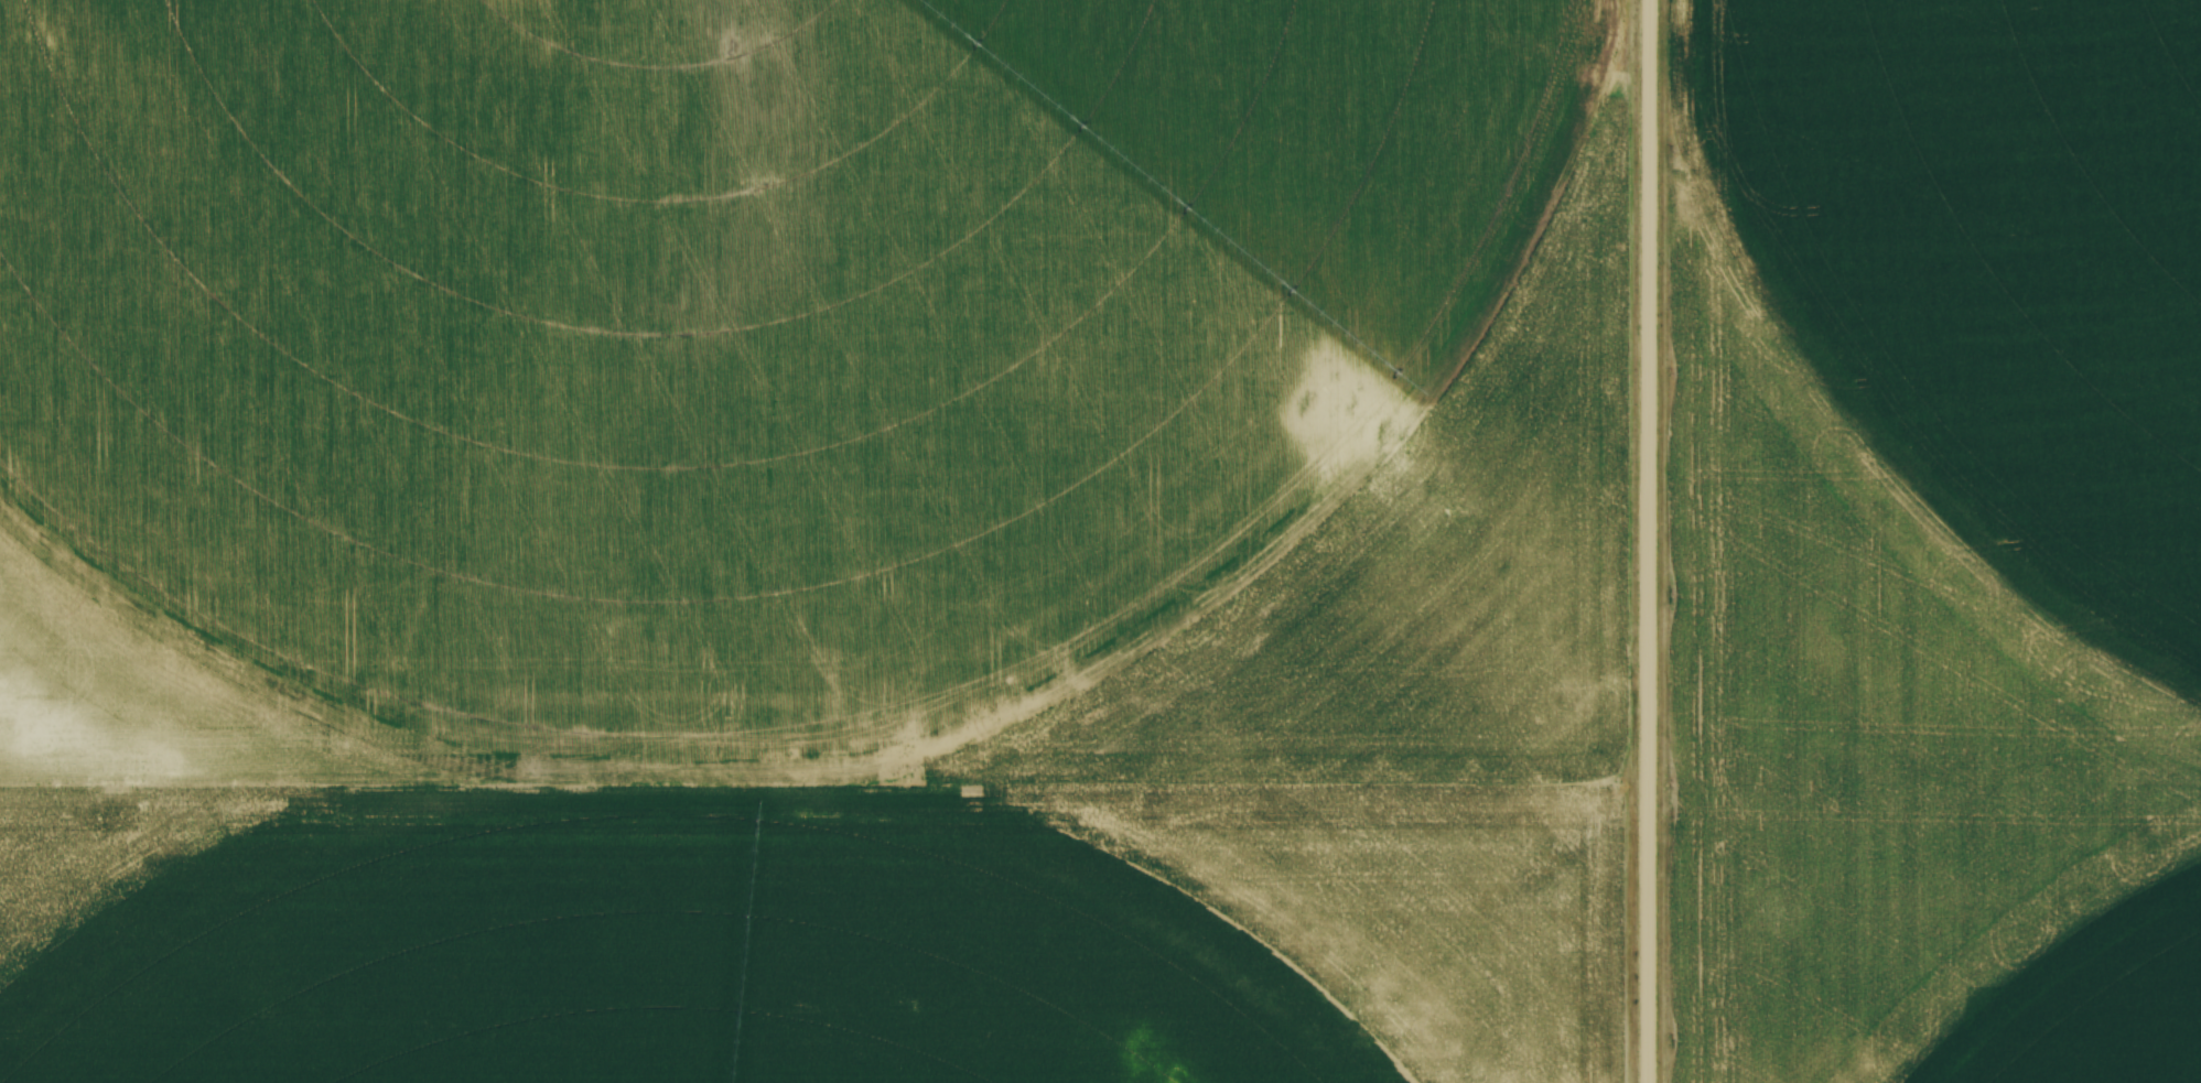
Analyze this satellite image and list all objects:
crop: (817, 541)
road: (1650, 541)

